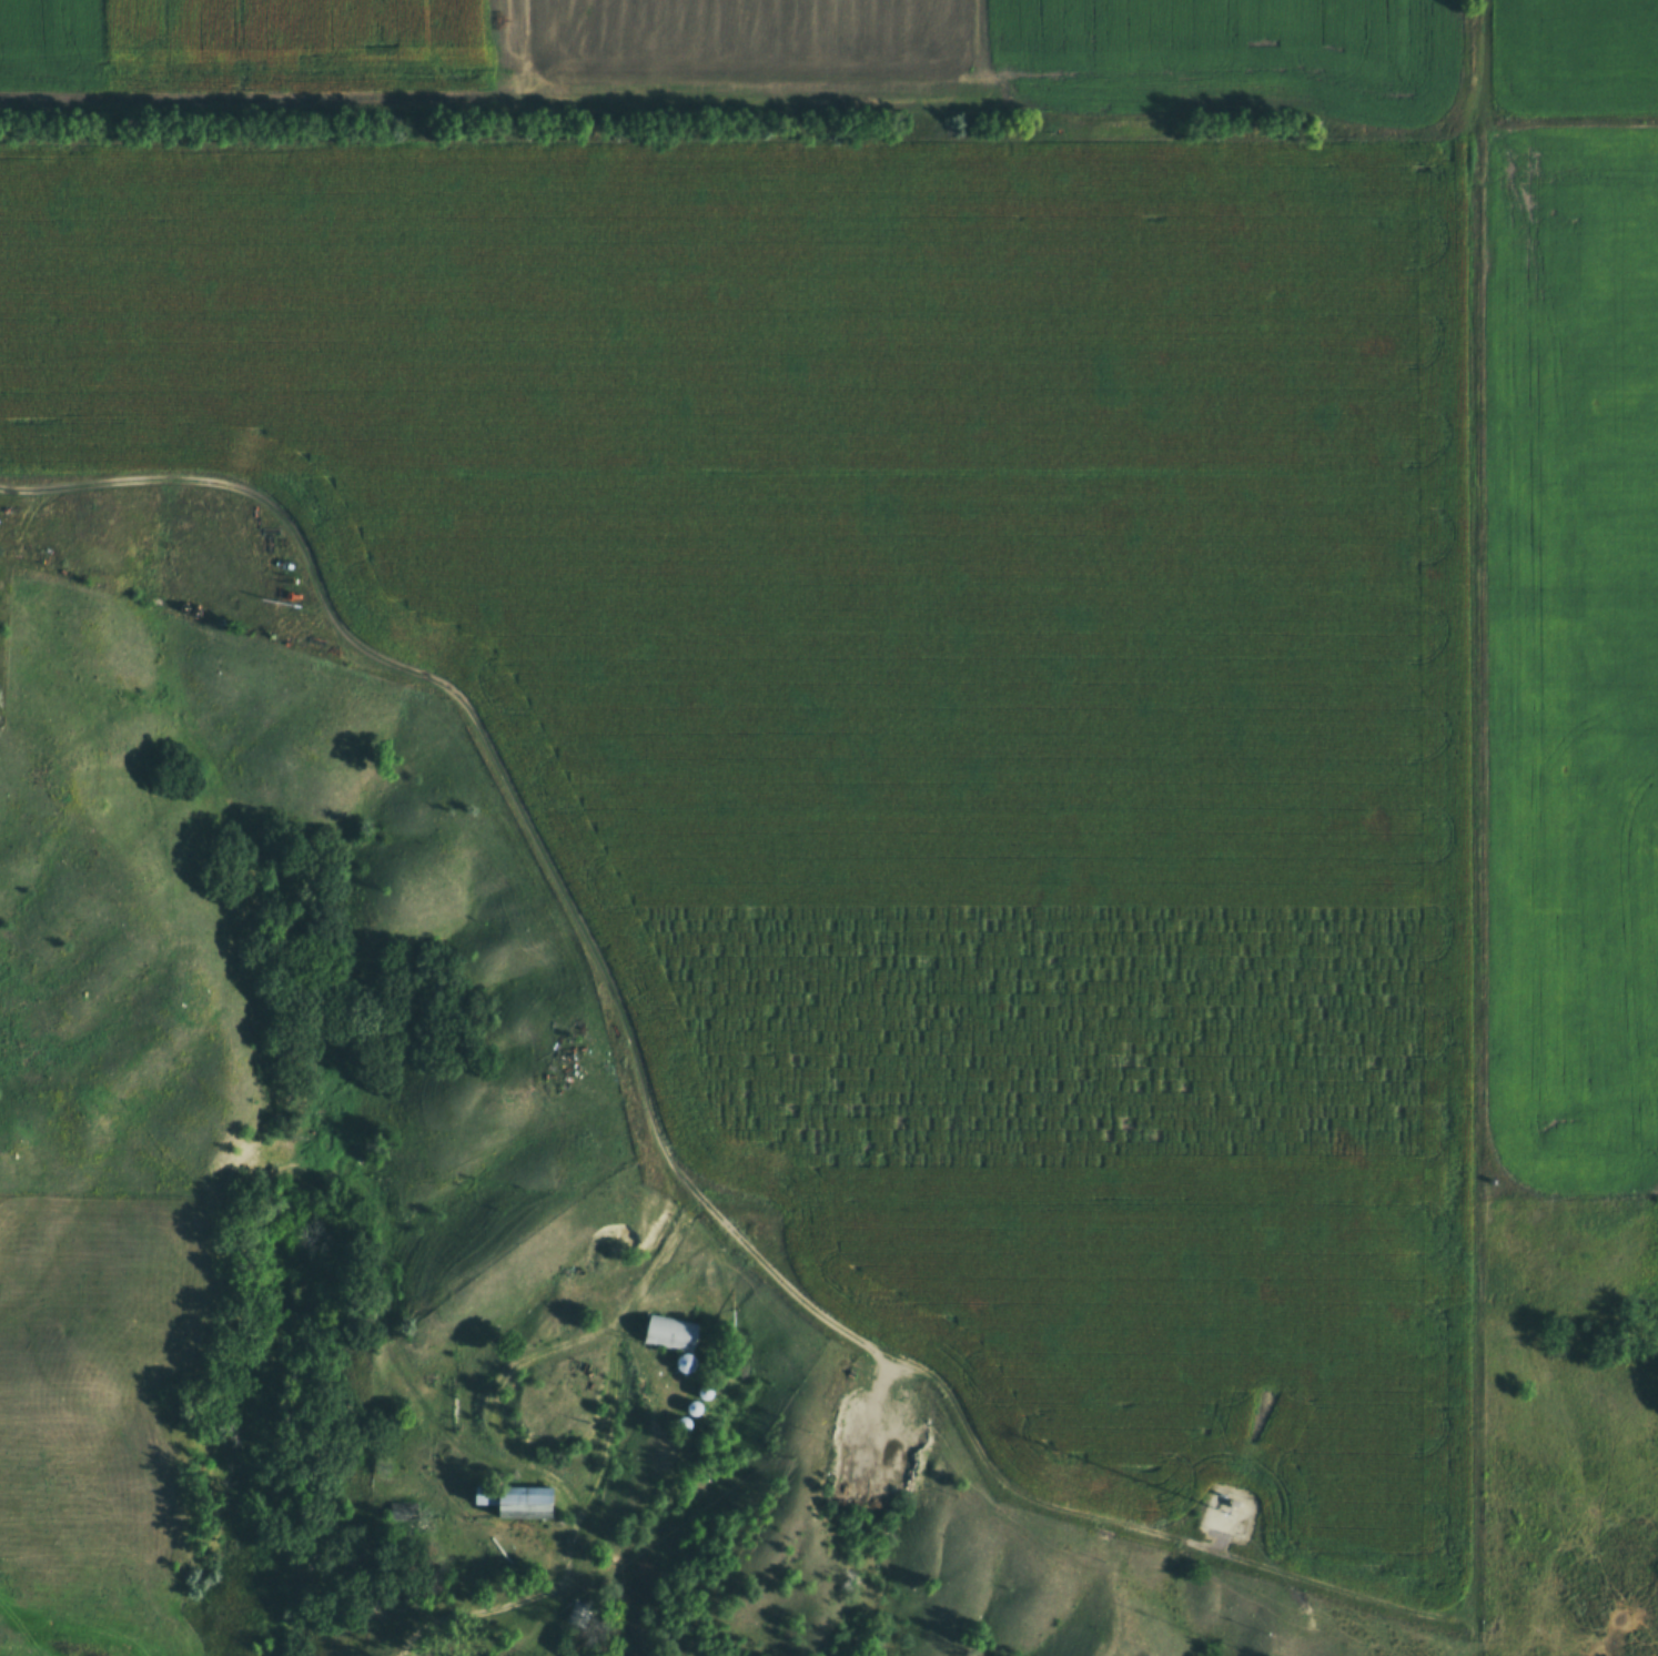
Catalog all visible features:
building: (670, 1330)
building: (684, 1362)
silo: (684, 1362)
building: (705, 1391)
silo: (705, 1391)
building: (692, 1406)
silo: (692, 1406)
building: (681, 1423)
silo: (681, 1423)
building: (514, 1498)
building: (1237, 1512)
road: (477, 1616)

